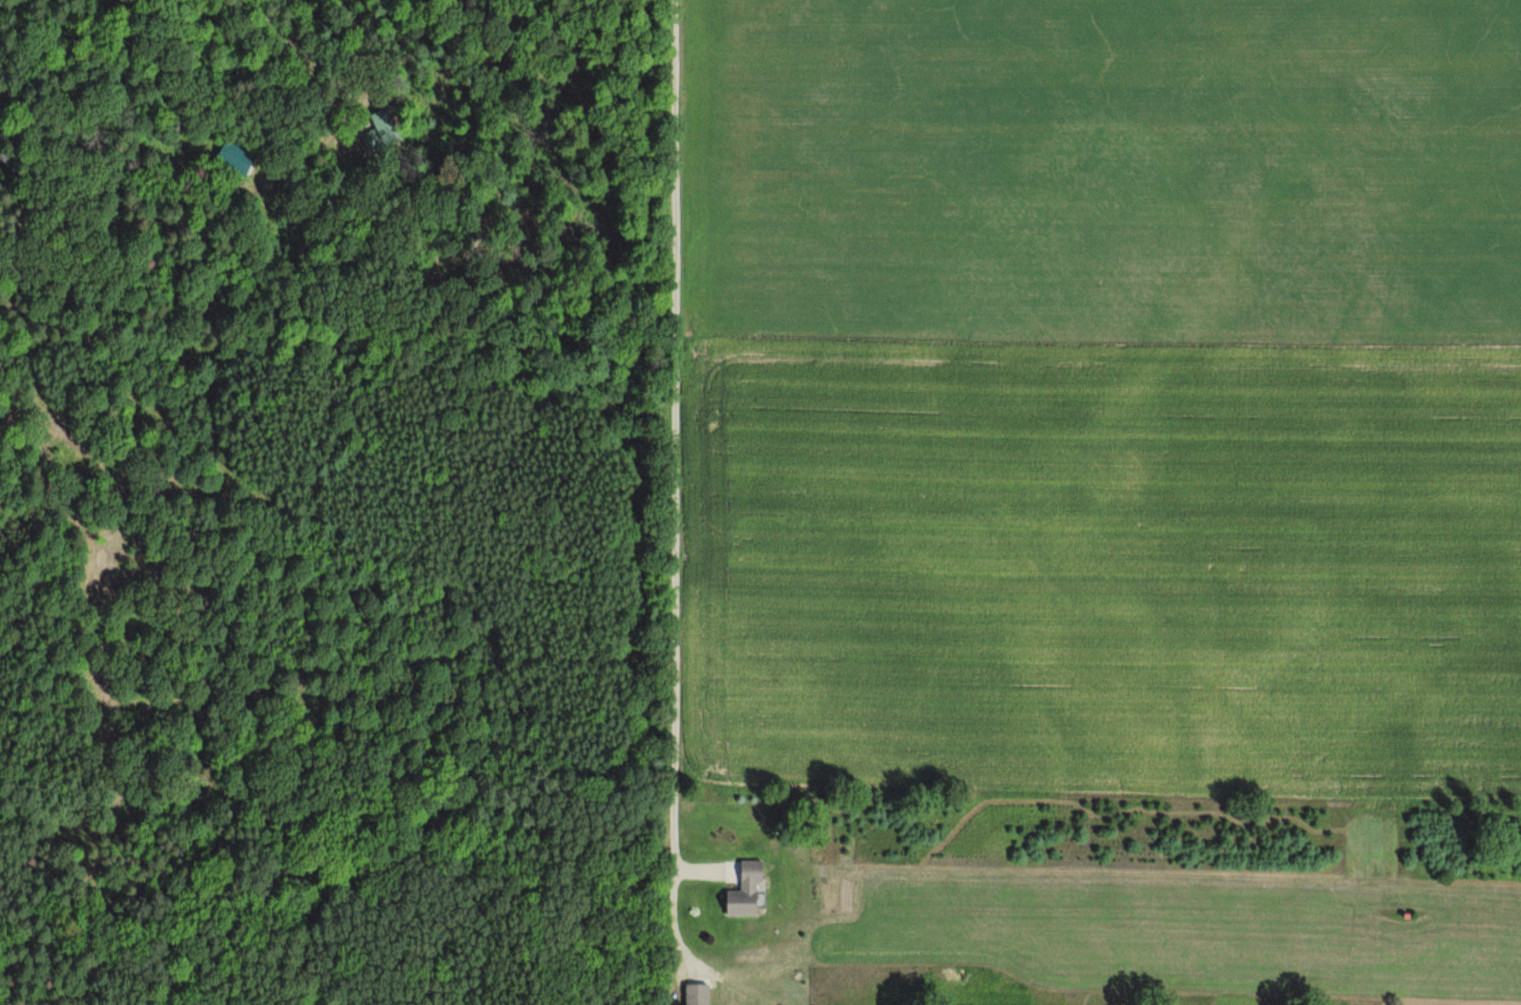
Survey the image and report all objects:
road: (290, 49)
building: (380, 130)
building: (731, 871)
building: (746, 888)
building: (697, 993)

